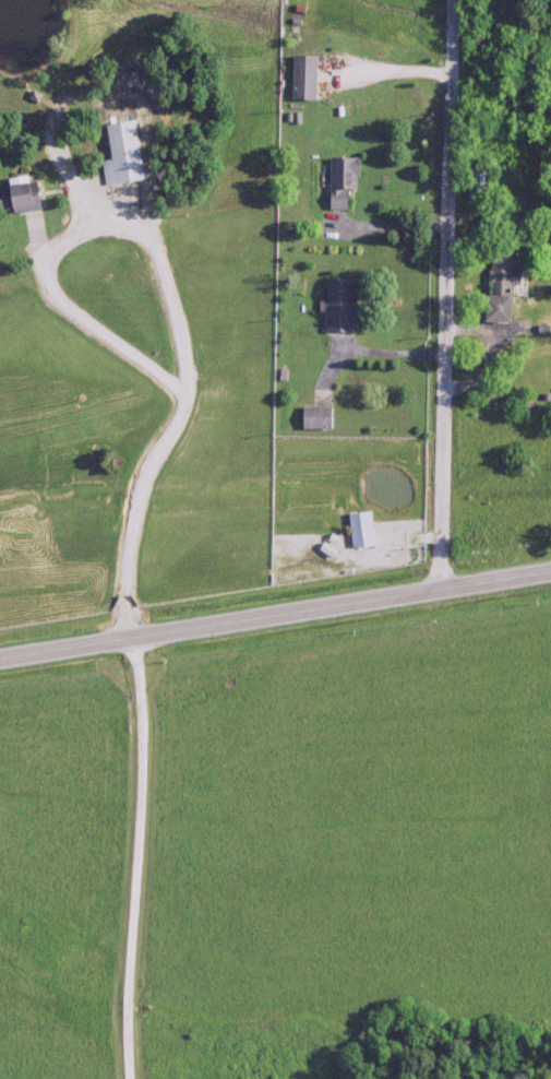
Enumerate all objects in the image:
road: (387, 74)
building: (300, 78)
building: (118, 153)
building: (476, 178)
building: (339, 180)
building: (16, 194)
road: (385, 225)
road: (168, 277)
building: (498, 288)
road: (450, 294)
building: (336, 306)
road: (368, 351)
building: (313, 418)
building: (358, 530)
road: (275, 613)
road: (140, 856)

